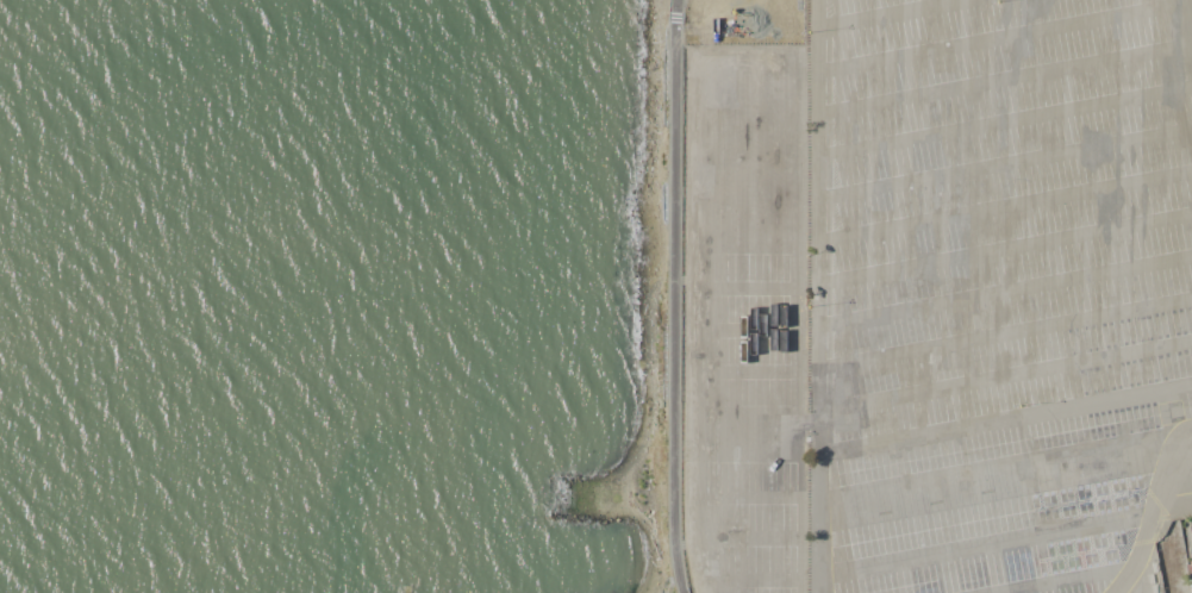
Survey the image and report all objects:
road: (893, 13)
road: (1186, 23)
road: (1001, 36)
road: (747, 76)
road: (1005, 79)
road: (1005, 121)
road: (747, 123)
road: (747, 162)
road: (1005, 163)
road: (1006, 205)
road: (747, 206)
road: (745, 249)
road: (1006, 250)
parking lot: (1005, 287)
road: (744, 288)
road: (1006, 292)
road: (820, 295)
road: (672, 296)
parking lot: (745, 317)
road: (744, 327)
road: (1006, 331)
road: (687, 335)
road: (800, 335)
road: (744, 372)
road: (1006, 376)
road: (744, 418)
road: (1006, 419)
road: (743, 455)
road: (998, 477)
road: (743, 493)
road: (1156, 513)
road: (743, 533)
road: (990, 542)
road: (745, 575)
road: (1062, 576)

